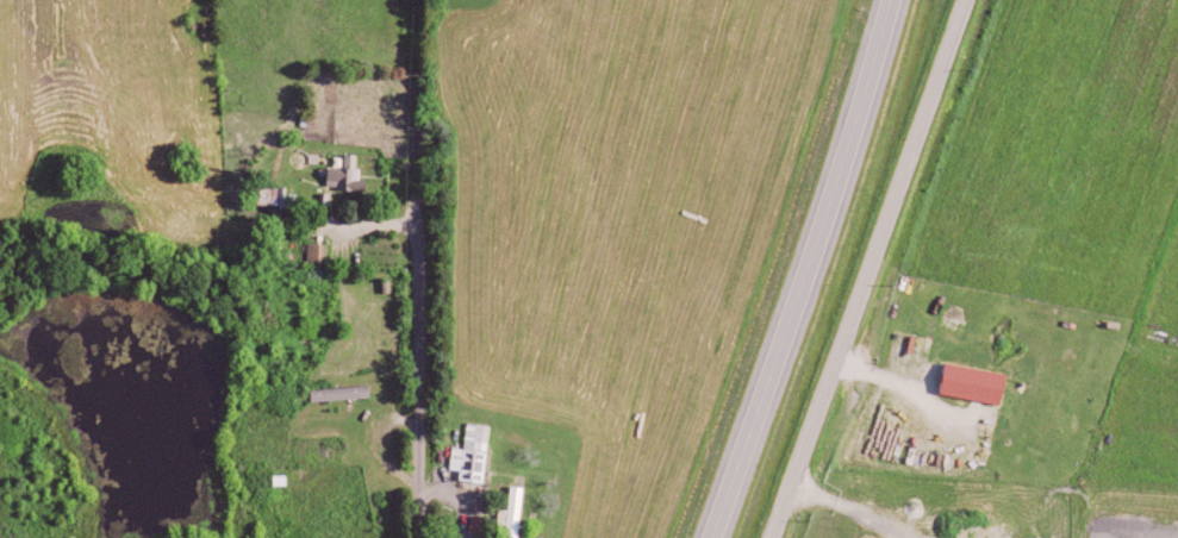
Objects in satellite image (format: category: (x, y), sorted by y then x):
building: (351, 174)
road: (349, 220)
road: (791, 269)
road: (872, 269)
road: (417, 380)
building: (980, 383)
building: (344, 393)
building: (478, 453)
road: (462, 498)
building: (518, 512)

